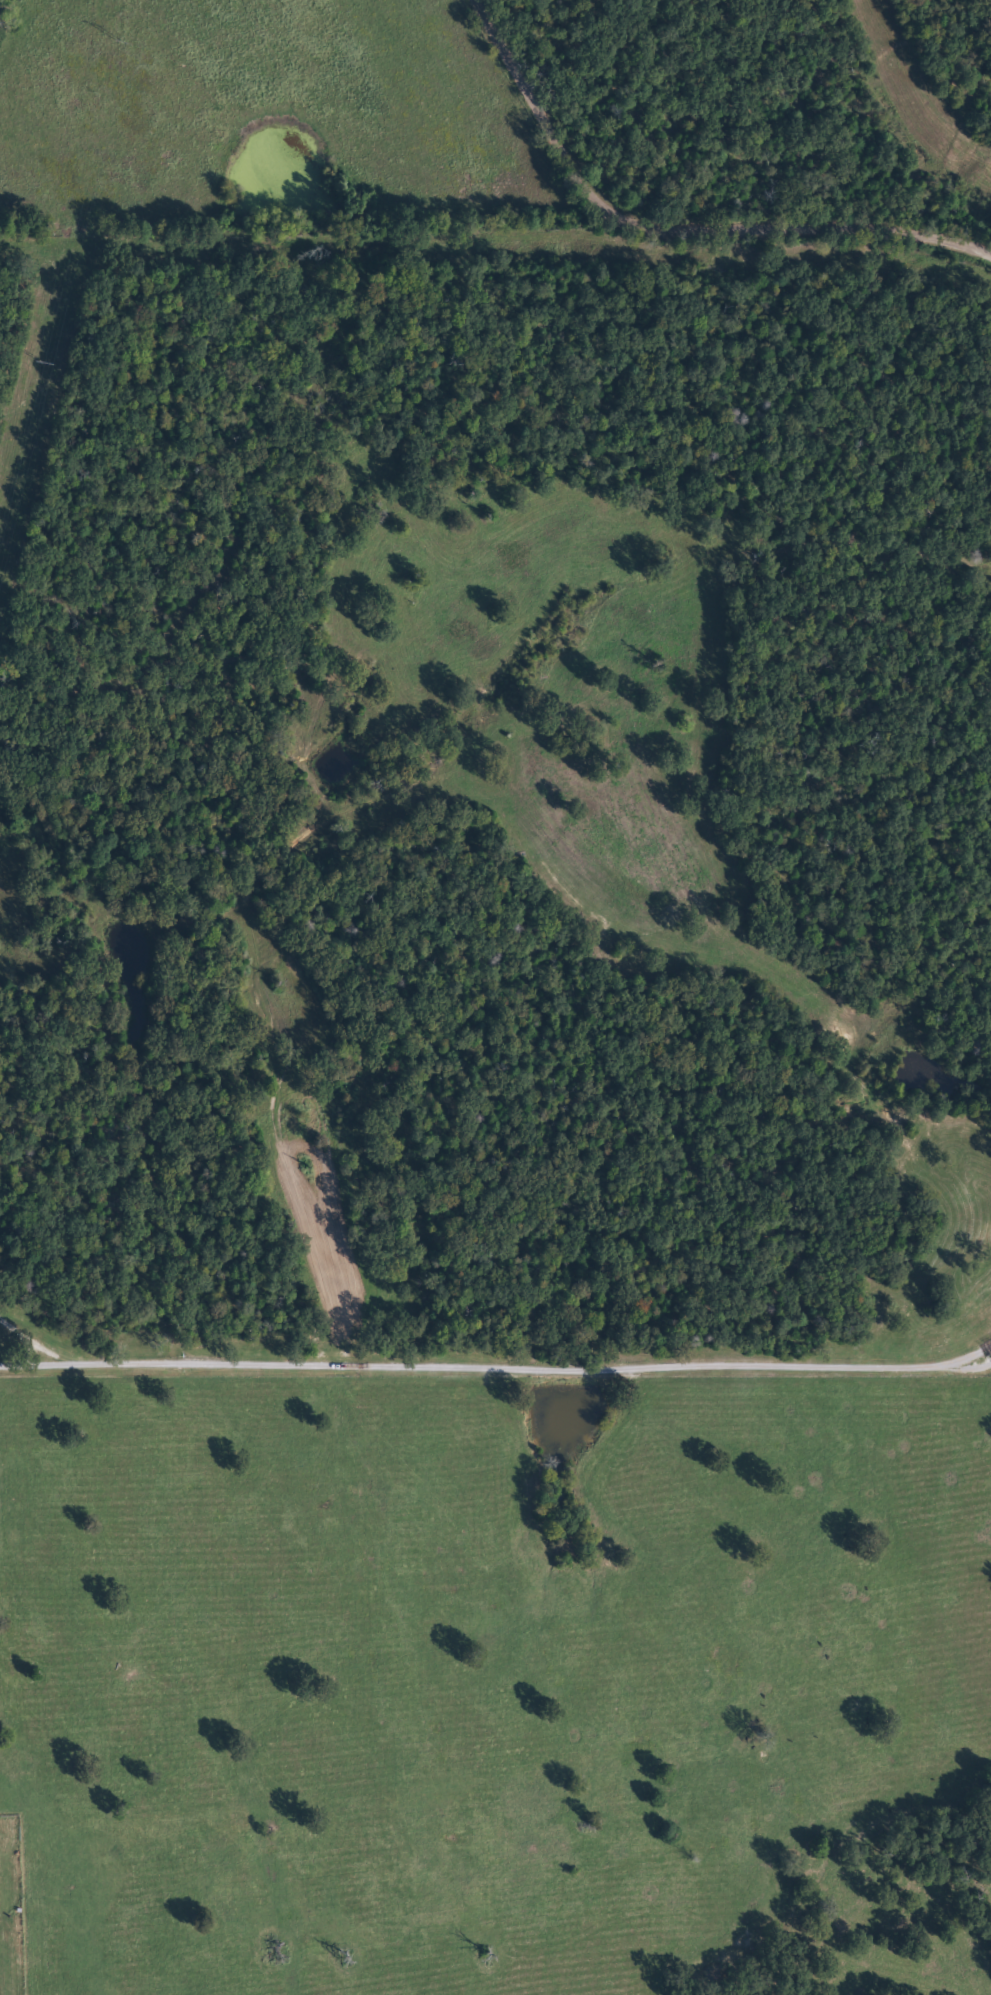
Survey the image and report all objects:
power tower: (116, 51)
road: (677, 200)
road: (495, 1370)

